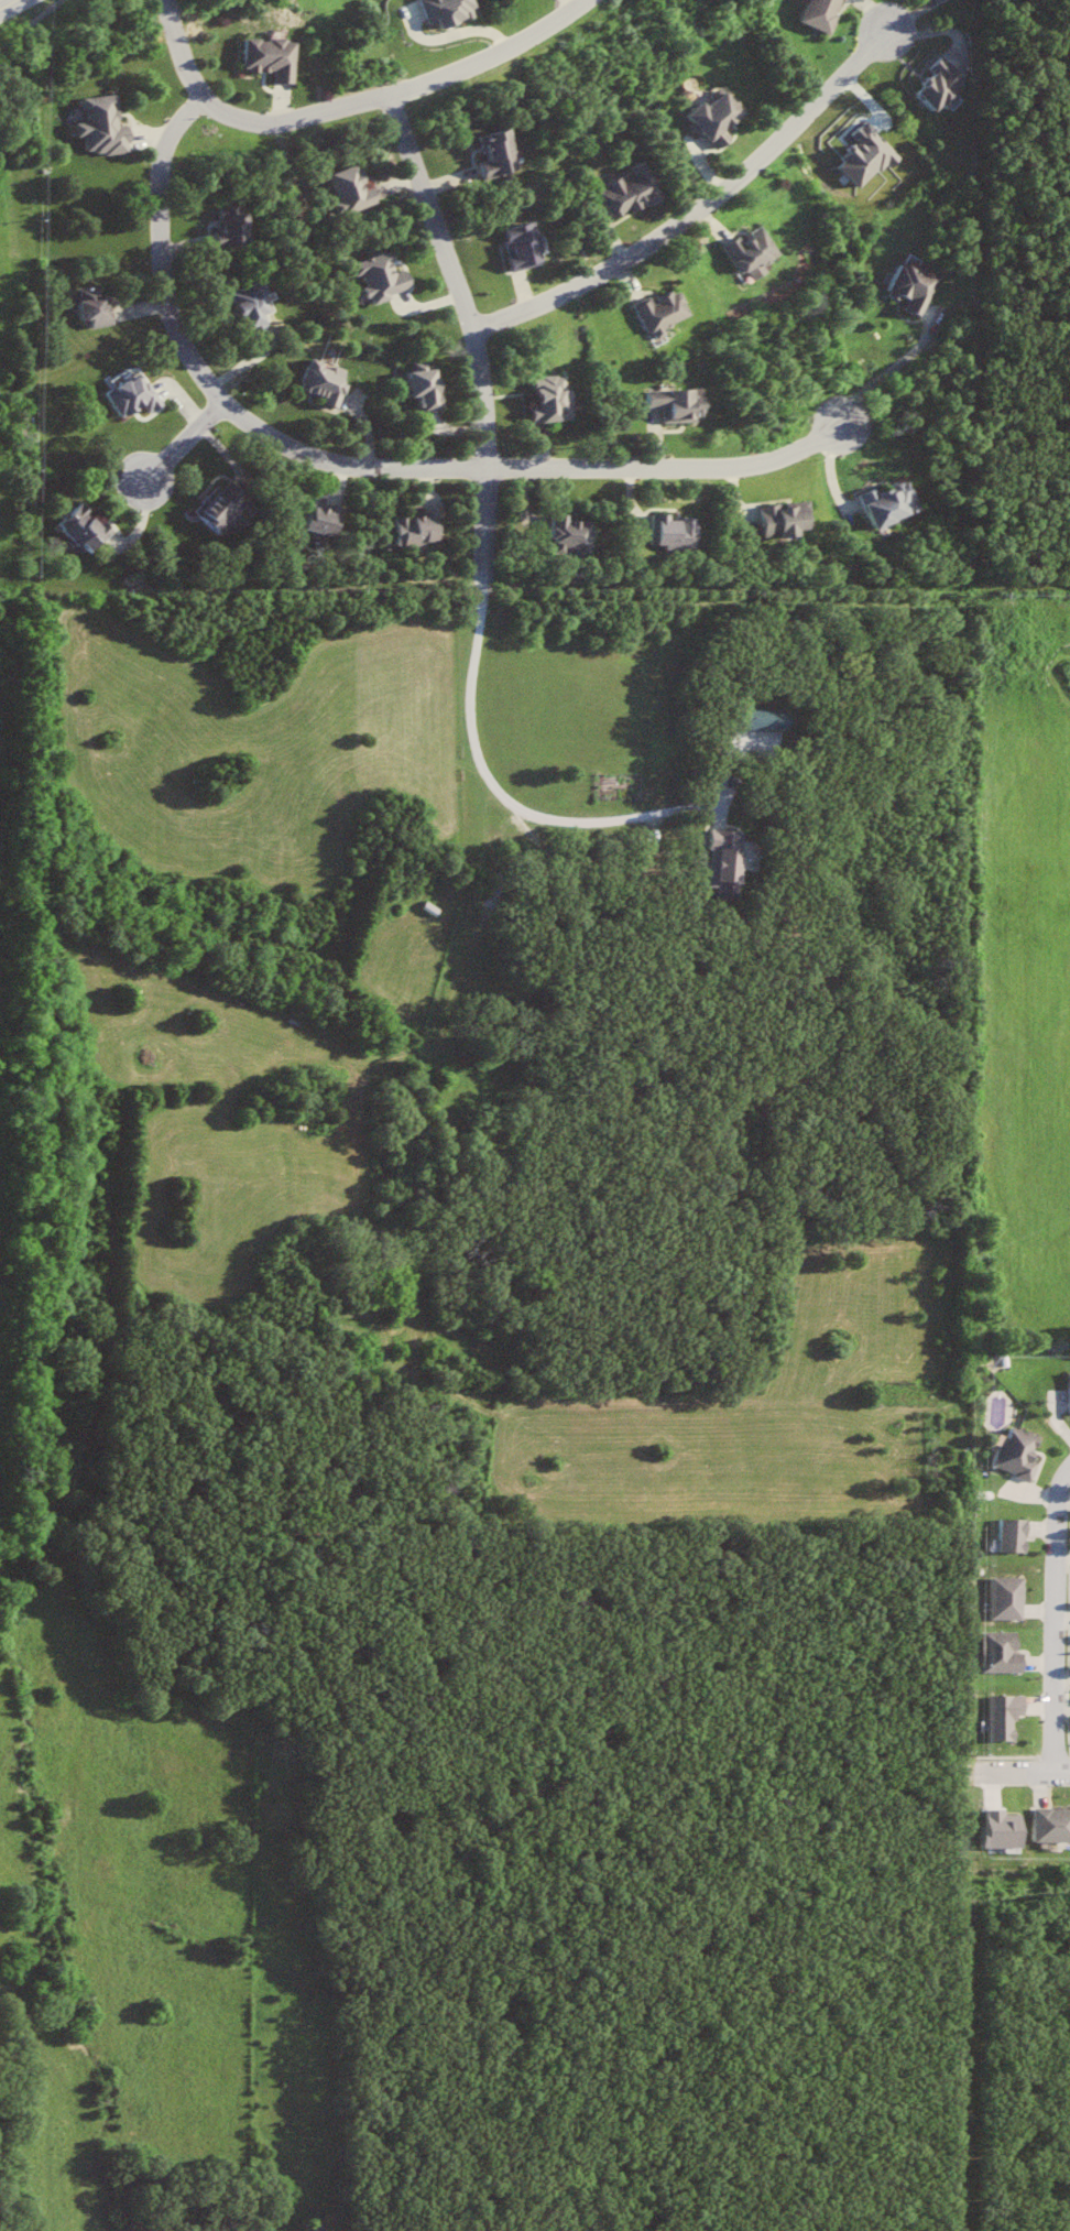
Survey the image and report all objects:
road: (8, 4)
building: (450, 11)
building: (825, 13)
road: (29, 22)
road: (174, 50)
building: (275, 57)
building: (945, 85)
road: (401, 96)
building: (719, 119)
building: (106, 126)
building: (500, 152)
building: (871, 155)
building: (357, 187)
building: (634, 192)
road: (702, 213)
building: (236, 226)
building: (526, 246)
building: (757, 252)
building: (385, 276)
park: (1022, 283)
building: (917, 285)
building: (97, 306)
building: (256, 306)
building: (668, 315)
building: (328, 381)
building: (426, 388)
building: (135, 396)
building: (555, 400)
building: (683, 405)
road: (182, 447)
road: (361, 470)
building: (895, 504)
building: (225, 507)
building: (326, 519)
building: (789, 521)
building: (87, 530)
building: (421, 530)
building: (678, 532)
building: (575, 533)
road: (490, 565)
road: (1025, 589)
building: (765, 716)
building: (729, 859)
building: (1020, 1455)
building: (1016, 1535)
building: (1011, 1598)
road: (1058, 1623)
building: (1006, 1653)
building: (1009, 1716)
road: (1027, 1775)
building: (1053, 1826)
building: (1007, 1830)

